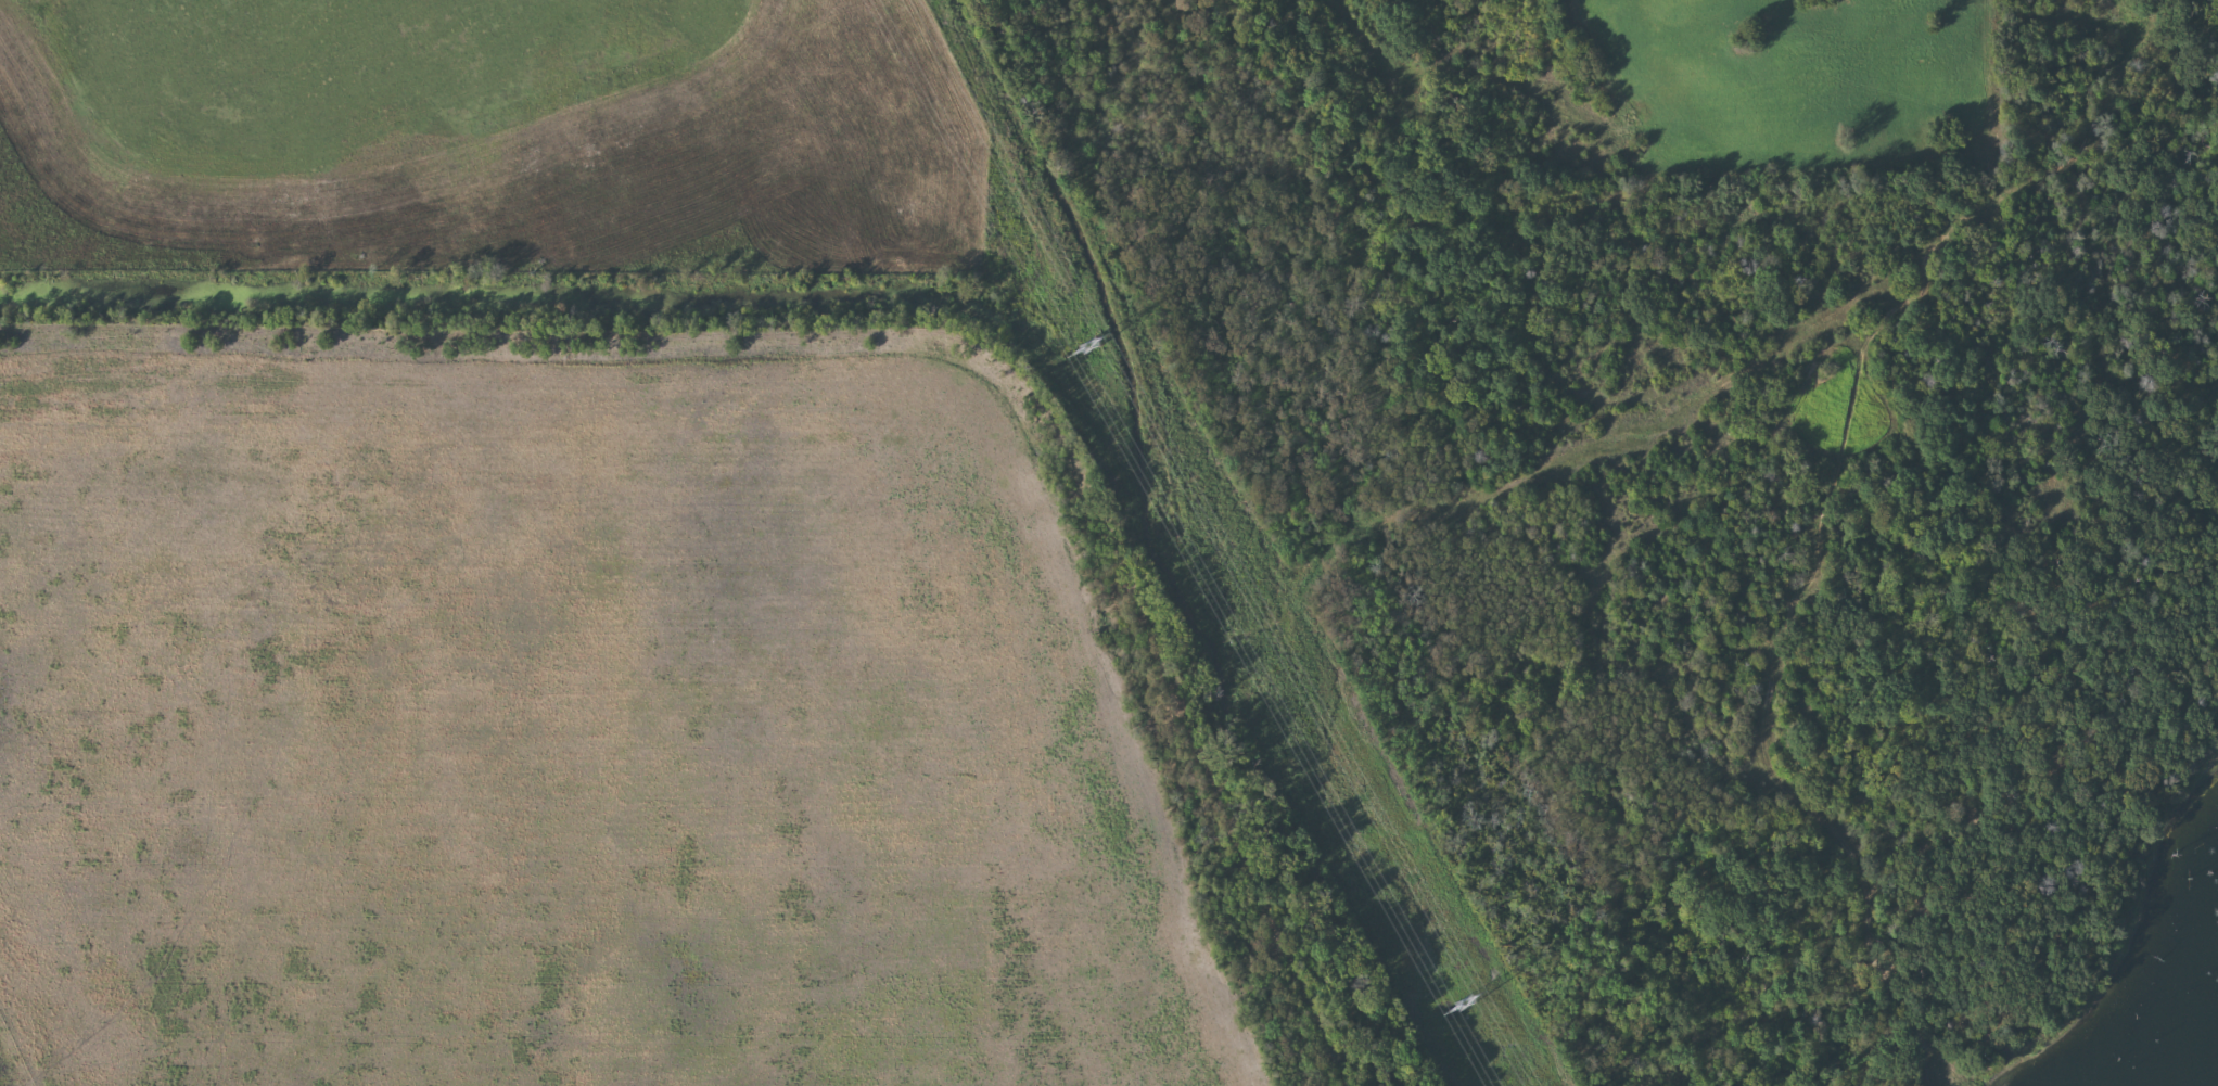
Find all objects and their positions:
power tower: (1095, 347)
power tower: (1471, 1007)

